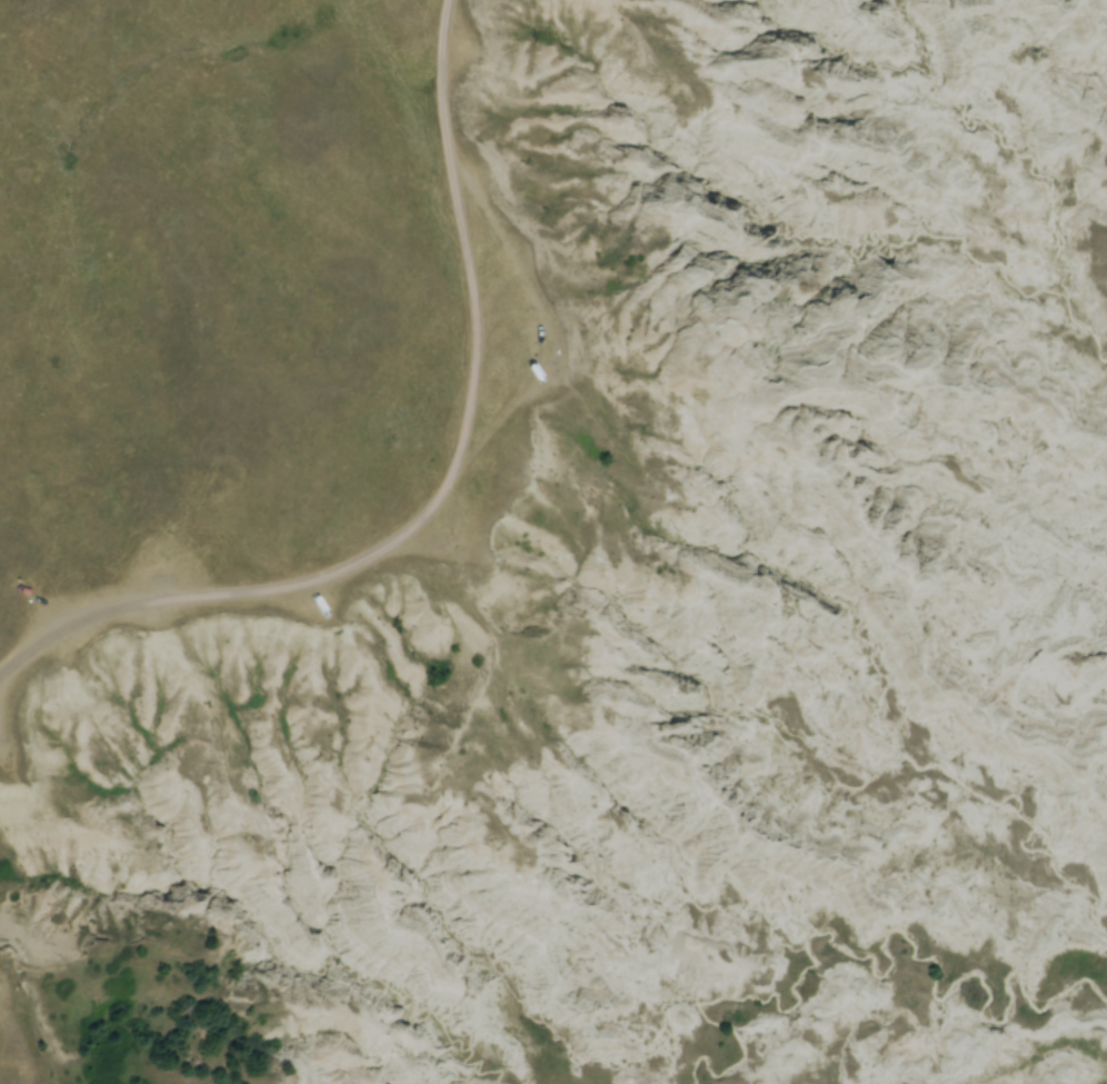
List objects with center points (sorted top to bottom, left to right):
road: (458, 467)

